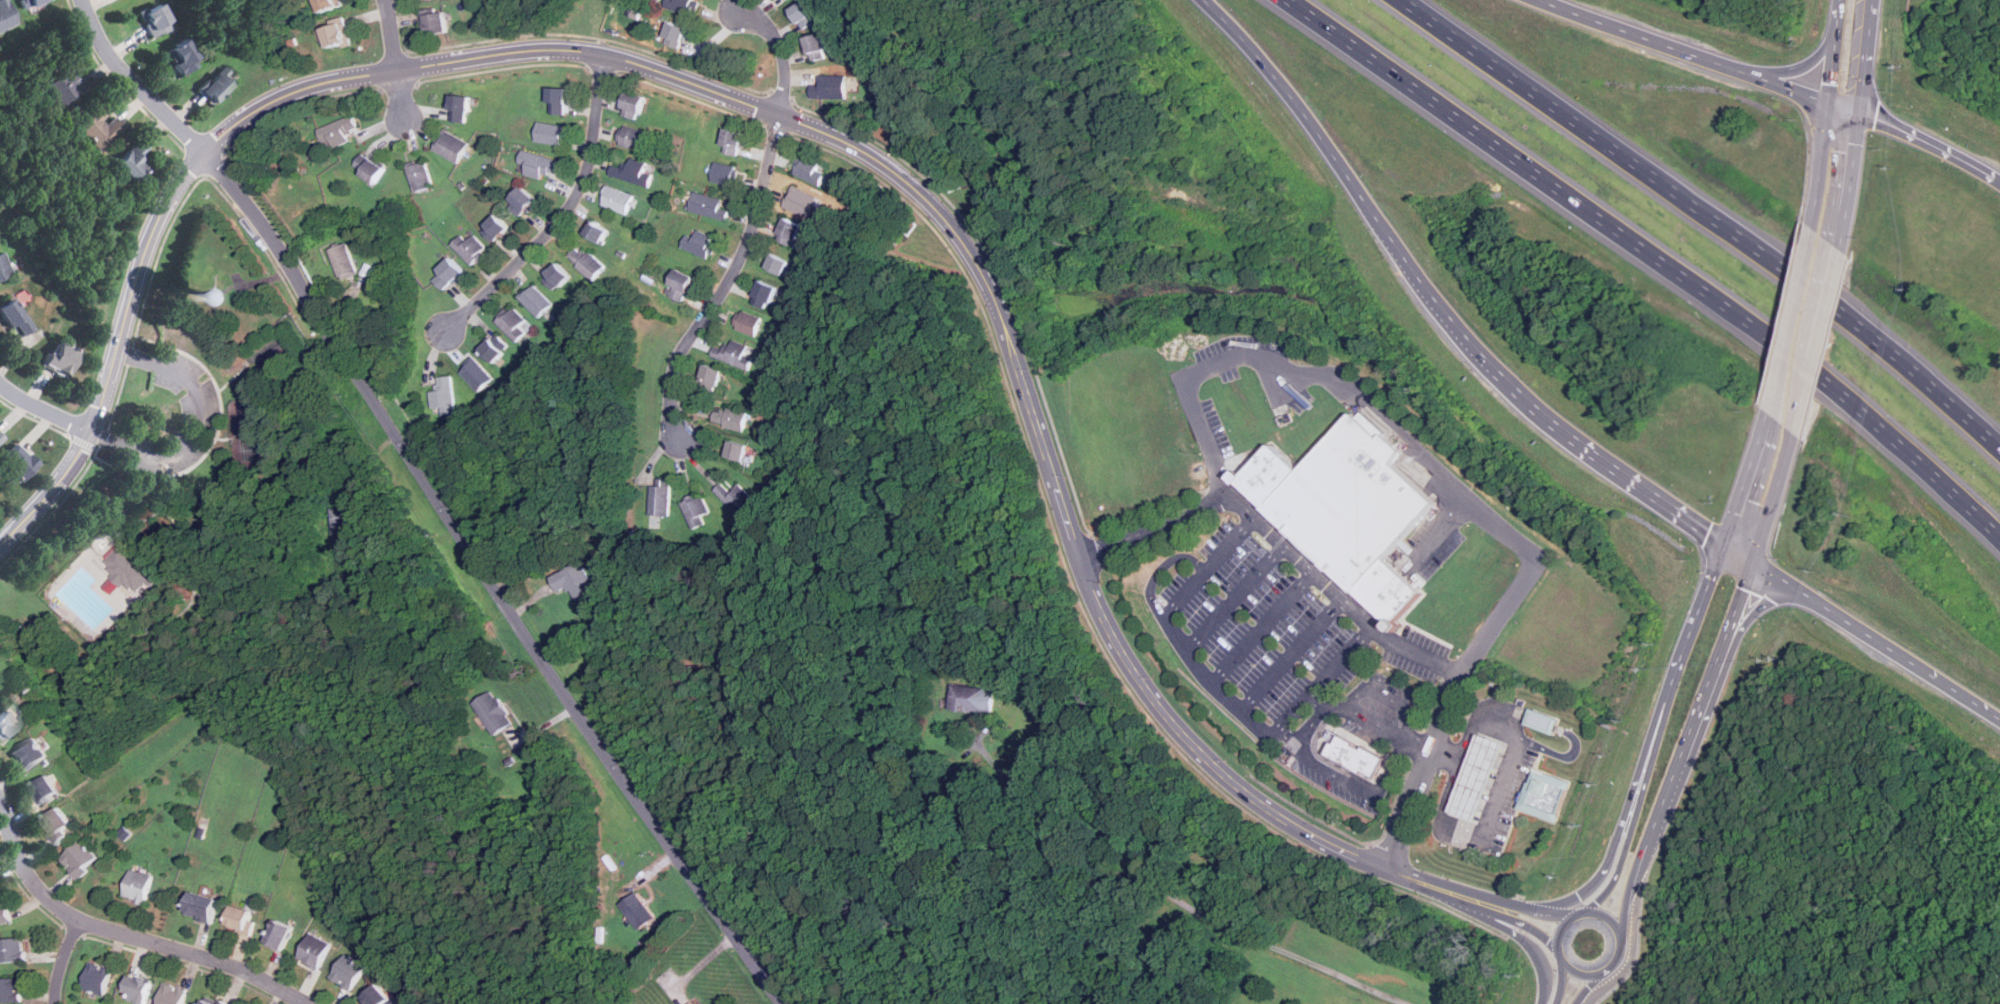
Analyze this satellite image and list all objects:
building: (786, 0)
building: (29, 2)
building: (329, 3)
building: (683, 5)
building: (807, 13)
building: (6, 14)
building: (156, 18)
building: (438, 19)
building: (337, 33)
building: (678, 34)
building: (821, 46)
road: (543, 49)
building: (184, 54)
road: (779, 55)
road: (1696, 56)
road: (397, 59)
road: (1808, 67)
building: (214, 86)
building: (832, 86)
building: (64, 88)
building: (561, 100)
traffic signals: (1831, 104)
building: (636, 105)
building: (462, 107)
road: (1829, 114)
traffic signals: (1861, 115)
road: (1859, 126)
building: (99, 127)
building: (340, 130)
building: (551, 133)
building: (633, 137)
building: (735, 141)
building: (452, 145)
road: (1931, 145)
building: (133, 160)
building: (540, 164)
building: (371, 167)
building: (812, 169)
building: (635, 171)
building: (725, 173)
road: (1347, 174)
building: (420, 175)
building: (618, 199)
building: (524, 201)
building: (801, 201)
building: (709, 205)
road: (564, 215)
road: (1705, 216)
building: (498, 228)
building: (598, 230)
building: (791, 231)
building: (700, 243)
building: (472, 249)
road: (1653, 257)
building: (344, 261)
building: (587, 262)
building: (779, 263)
building: (4, 265)
building: (450, 274)
building: (558, 276)
road: (727, 279)
building: (682, 285)
building: (767, 291)
building: (216, 297)
building: (536, 300)
road: (1829, 305)
building: (15, 317)
road: (1794, 322)
building: (750, 323)
building: (514, 324)
building: (494, 350)
building: (737, 354)
building: (61, 359)
road: (147, 359)
building: (714, 374)
building: (477, 375)
road: (1335, 379)
building: (444, 396)
road: (1807, 397)
road: (44, 409)
building: (732, 418)
building: (1, 437)
road: (180, 448)
building: (739, 450)
road: (1597, 456)
building: (18, 462)
building: (1264, 475)
road: (1748, 481)
building: (661, 497)
road: (435, 498)
building: (738, 498)
building: (1348, 501)
building: (697, 511)
building: (342, 520)
road: (1159, 534)
traffic signals: (1724, 546)
road: (1741, 555)
traffic signals: (1758, 565)
road: (1160, 568)
building: (128, 569)
building: (576, 581)
building: (1384, 591)
road: (1234, 596)
road: (1336, 596)
road: (1698, 611)
road: (1765, 613)
parking lot: (1279, 628)
road: (1262, 629)
road: (1176, 635)
road: (1880, 639)
road: (1290, 656)
road: (1327, 676)
road: (1713, 689)
road: (1385, 697)
building: (973, 699)
road: (1449, 707)
road: (1312, 708)
building: (495, 712)
building: (1541, 721)
building: (6, 723)
road: (1293, 731)
parking lot: (1359, 737)
road: (1420, 740)
road: (1199, 749)
building: (1356, 752)
building: (28, 754)
road: (1307, 757)
building: (1475, 777)
road: (1503, 788)
building: (47, 789)
building: (1544, 793)
gas station: (1544, 793)
road: (1636, 800)
road: (1625, 812)
building: (60, 825)
building: (81, 858)
road: (1420, 879)
building: (139, 885)
road: (1468, 895)
road: (1173, 896)
building: (203, 906)
road: (1532, 908)
building: (639, 911)
road: (1608, 914)
building: (6, 916)
building: (243, 918)
road: (1526, 921)
road: (1560, 927)
road: (1518, 933)
road: (127, 934)
building: (282, 934)
building: (316, 950)
building: (13, 951)
road: (1619, 957)
road: (61, 959)
road: (1579, 971)
building: (350, 972)
road: (1561, 978)
building: (98, 979)
road: (1591, 987)
building: (138, 988)
building: (11, 990)
building: (173, 994)
building: (379, 995)
building: (212, 1002)
building: (225, 1002)
building: (694, 1002)

